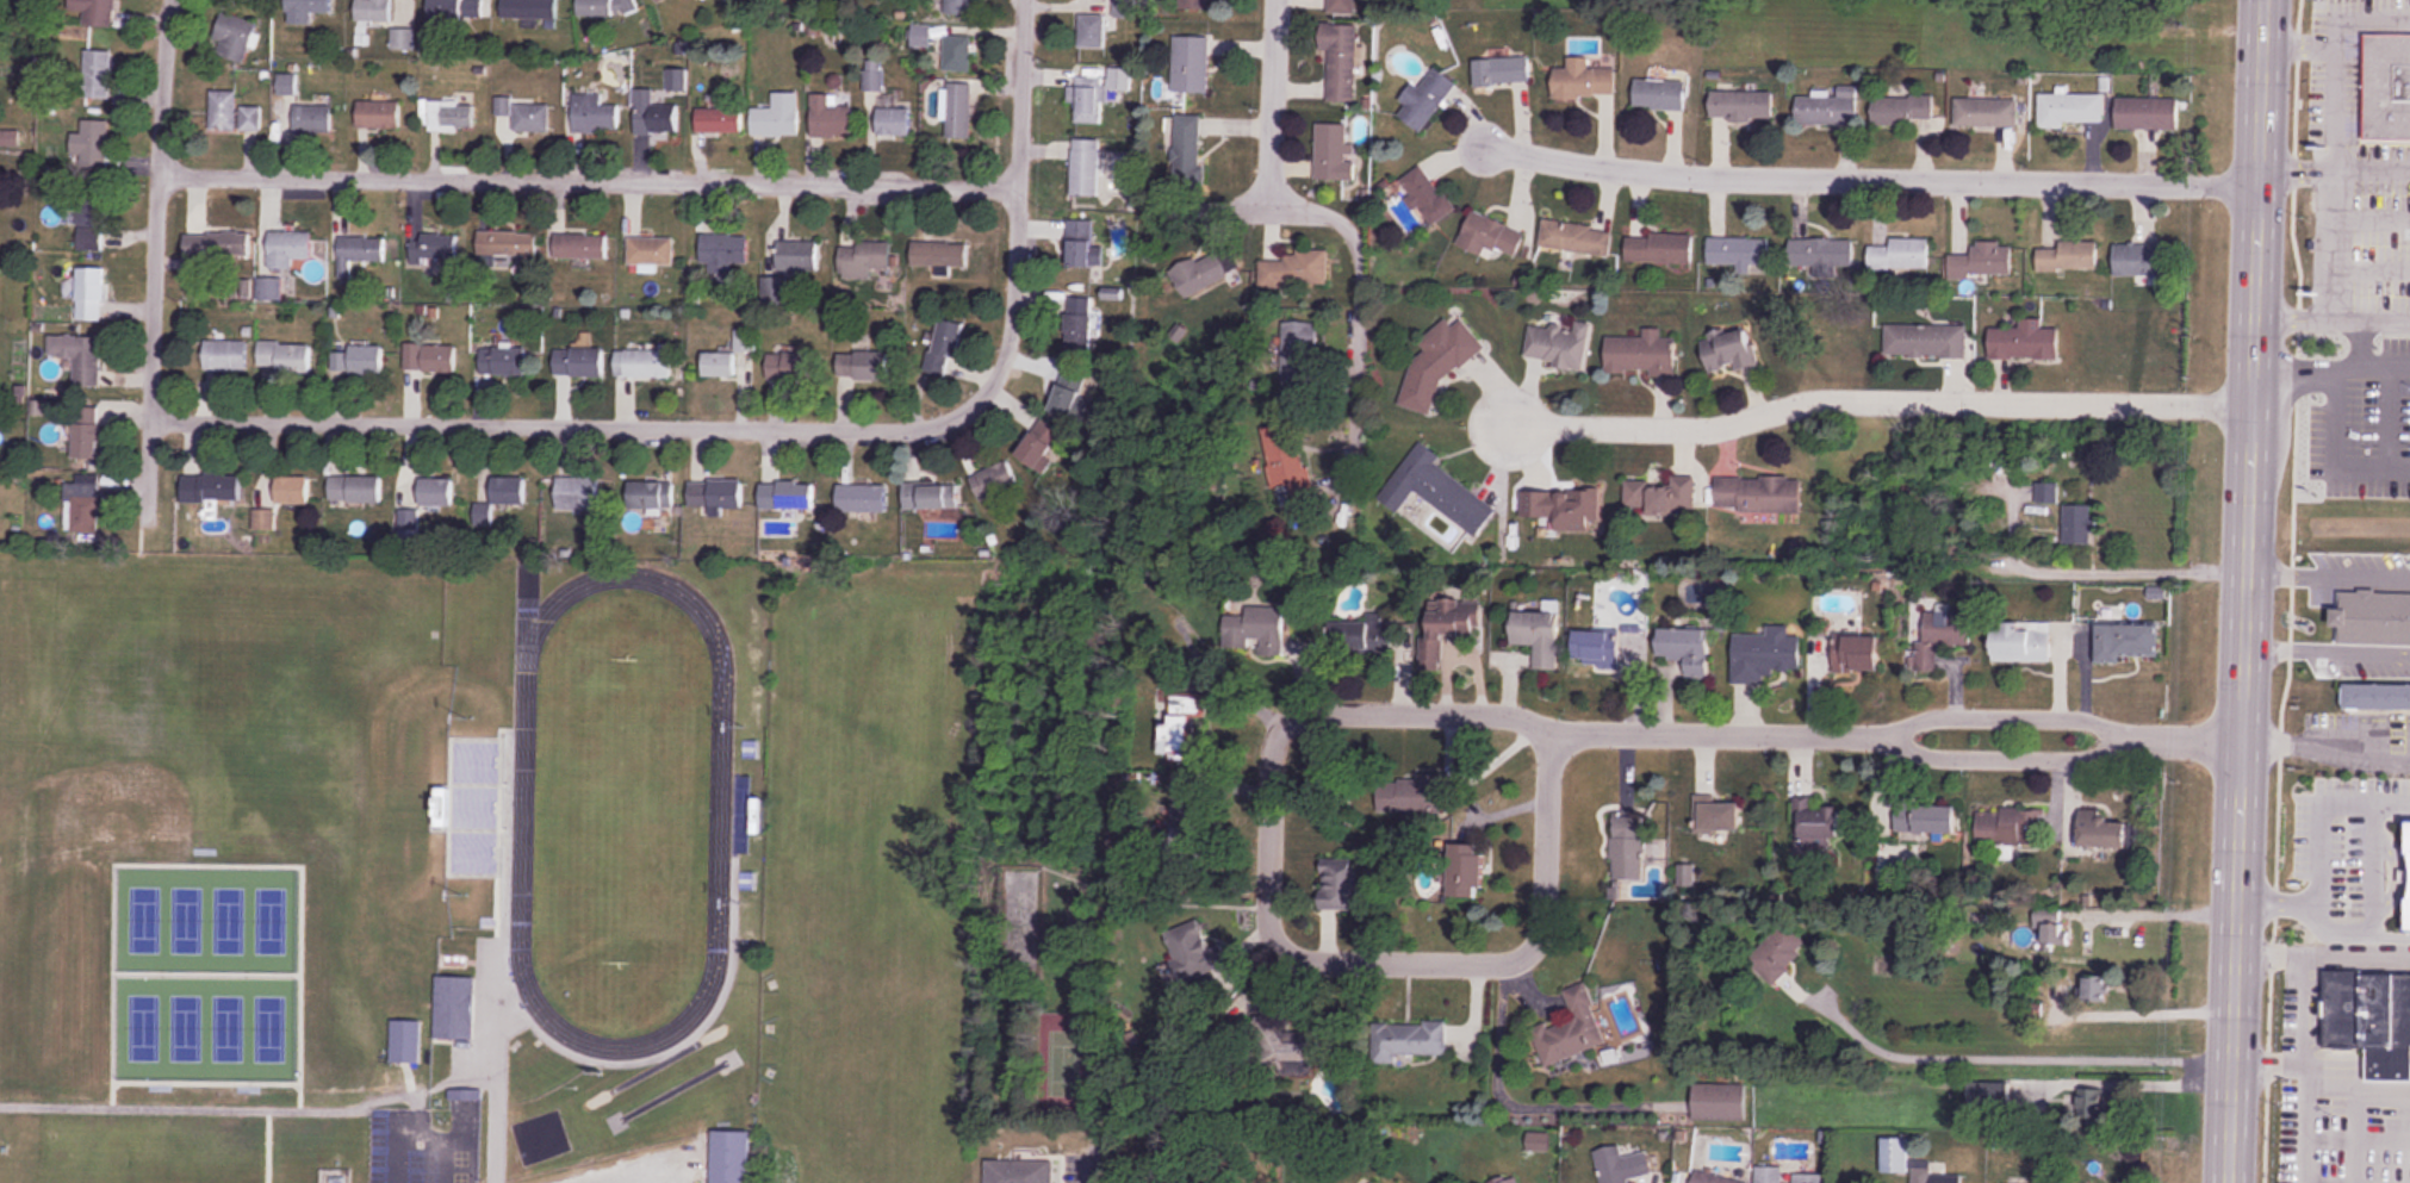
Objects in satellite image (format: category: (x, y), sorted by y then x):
building: (658, 1)
building: (1195, 1)
building: (1340, 6)
building: (603, 7)
building: (959, 7)
building: (528, 8)
building: (305, 10)
building: (455, 10)
building: (95, 11)
building: (373, 11)
road: (2372, 13)
building: (1092, 31)
building: (921, 36)
building: (235, 37)
road: (2293, 41)
building: (957, 54)
building: (1340, 60)
building: (1191, 64)
building: (1502, 70)
building: (97, 74)
building: (1583, 79)
building: (287, 85)
building: (2387, 87)
building: (1659, 94)
building: (1424, 99)
road: (1273, 102)
building: (1741, 106)
building: (1828, 108)
building: (1902, 110)
building: (2070, 110)
building: (223, 111)
building: (958, 111)
building: (1986, 112)
building: (2147, 113)
building: (378, 114)
building: (451, 116)
building: (526, 116)
building: (594, 116)
building: (653, 116)
building: (777, 117)
building: (250, 118)
building: (830, 118)
building: (312, 119)
building: (718, 122)
building: (894, 122)
building: (92, 144)
building: (1330, 151)
building: (1187, 152)
road: (2323, 156)
building: (1085, 167)
road: (2334, 167)
road: (589, 176)
road: (1869, 179)
building: (1425, 198)
road: (1235, 205)
road: (1017, 208)
building: (91, 216)
road: (2366, 217)
building: (1489, 236)
building: (1576, 237)
building: (507, 243)
building: (216, 244)
building: (1080, 244)
building: (580, 245)
building: (288, 249)
building: (434, 249)
building: (1659, 249)
building: (651, 251)
building: (359, 253)
building: (1738, 253)
building: (1819, 253)
building: (722, 255)
building: (939, 255)
building: (1900, 255)
building: (796, 256)
building: (2069, 257)
building: (2143, 259)
road: (156, 260)
building: (863, 260)
building: (1982, 260)
road: (2365, 267)
building: (1203, 272)
building: (1286, 272)
building: (268, 289)
road: (1094, 293)
building: (89, 297)
road: (2331, 315)
road: (1356, 328)
building: (1079, 330)
building: (1925, 340)
building: (2025, 341)
road: (2360, 341)
building: (1557, 345)
building: (944, 349)
building: (1729, 349)
building: (1641, 354)
building: (224, 355)
building: (1298, 355)
building: (79, 356)
building: (284, 356)
building: (366, 359)
building: (429, 359)
building: (503, 361)
building: (578, 361)
building: (642, 363)
building: (1437, 363)
building: (791, 366)
building: (862, 367)
road: (2331, 367)
building: (1068, 397)
road: (1875, 400)
road: (2335, 415)
road: (2391, 416)
road: (563, 425)
building: (85, 432)
building: (1036, 449)
road: (2372, 462)
building: (1287, 471)
building: (996, 479)
building: (210, 488)
building: (354, 488)
building: (292, 490)
building: (508, 490)
building: (1436, 491)
building: (2046, 491)
building: (576, 492)
building: (1758, 493)
building: (650, 494)
building: (715, 494)
building: (785, 496)
building: (930, 496)
building: (1659, 497)
building: (861, 498)
building: (420, 500)
building: (82, 505)
building: (1567, 510)
building: (483, 513)
building: (263, 519)
building: (2077, 524)
road: (2094, 568)
road: (2328, 573)
road: (2244, 591)
building: (2374, 616)
building: (1536, 629)
building: (1255, 630)
building: (1452, 631)
building: (1940, 635)
building: (1362, 637)
building: (2020, 642)
building: (2125, 642)
building: (1604, 647)
building: (1685, 649)
road: (2327, 653)
building: (1857, 655)
building: (1765, 658)
building: (2377, 696)
road: (1998, 711)
building: (1179, 729)
road: (1895, 740)
road: (2324, 747)
building: (1405, 796)
building: (1720, 816)
building: (1815, 818)
building: (1925, 818)
building: (2008, 824)
building: (2101, 830)
building: (1628, 851)
building: (1462, 870)
building: (1340, 884)
road: (2273, 897)
road: (2155, 909)
building: (2051, 928)
road: (1277, 940)
building: (1190, 949)
building: (1778, 952)
building: (2095, 986)
building: (454, 1007)
road: (2141, 1009)
building: (2371, 1017)
building: (1571, 1028)
building: (1409, 1039)
building: (405, 1040)
building: (1300, 1046)
road: (2010, 1053)
road: (2142, 1079)
building: (2012, 1095)
building: (1719, 1101)
building: (1894, 1154)
building: (729, 1156)
road: (439, 1159)
building: (2306, 1160)
building: (1611, 1169)
building: (1019, 1171)
building: (1769, 1175)
building: (1932, 1176)
road: (1083, 1177)
building: (1808, 1177)
building: (1508, 1178)
building: (1712, 1178)
building: (1372, 1182)

